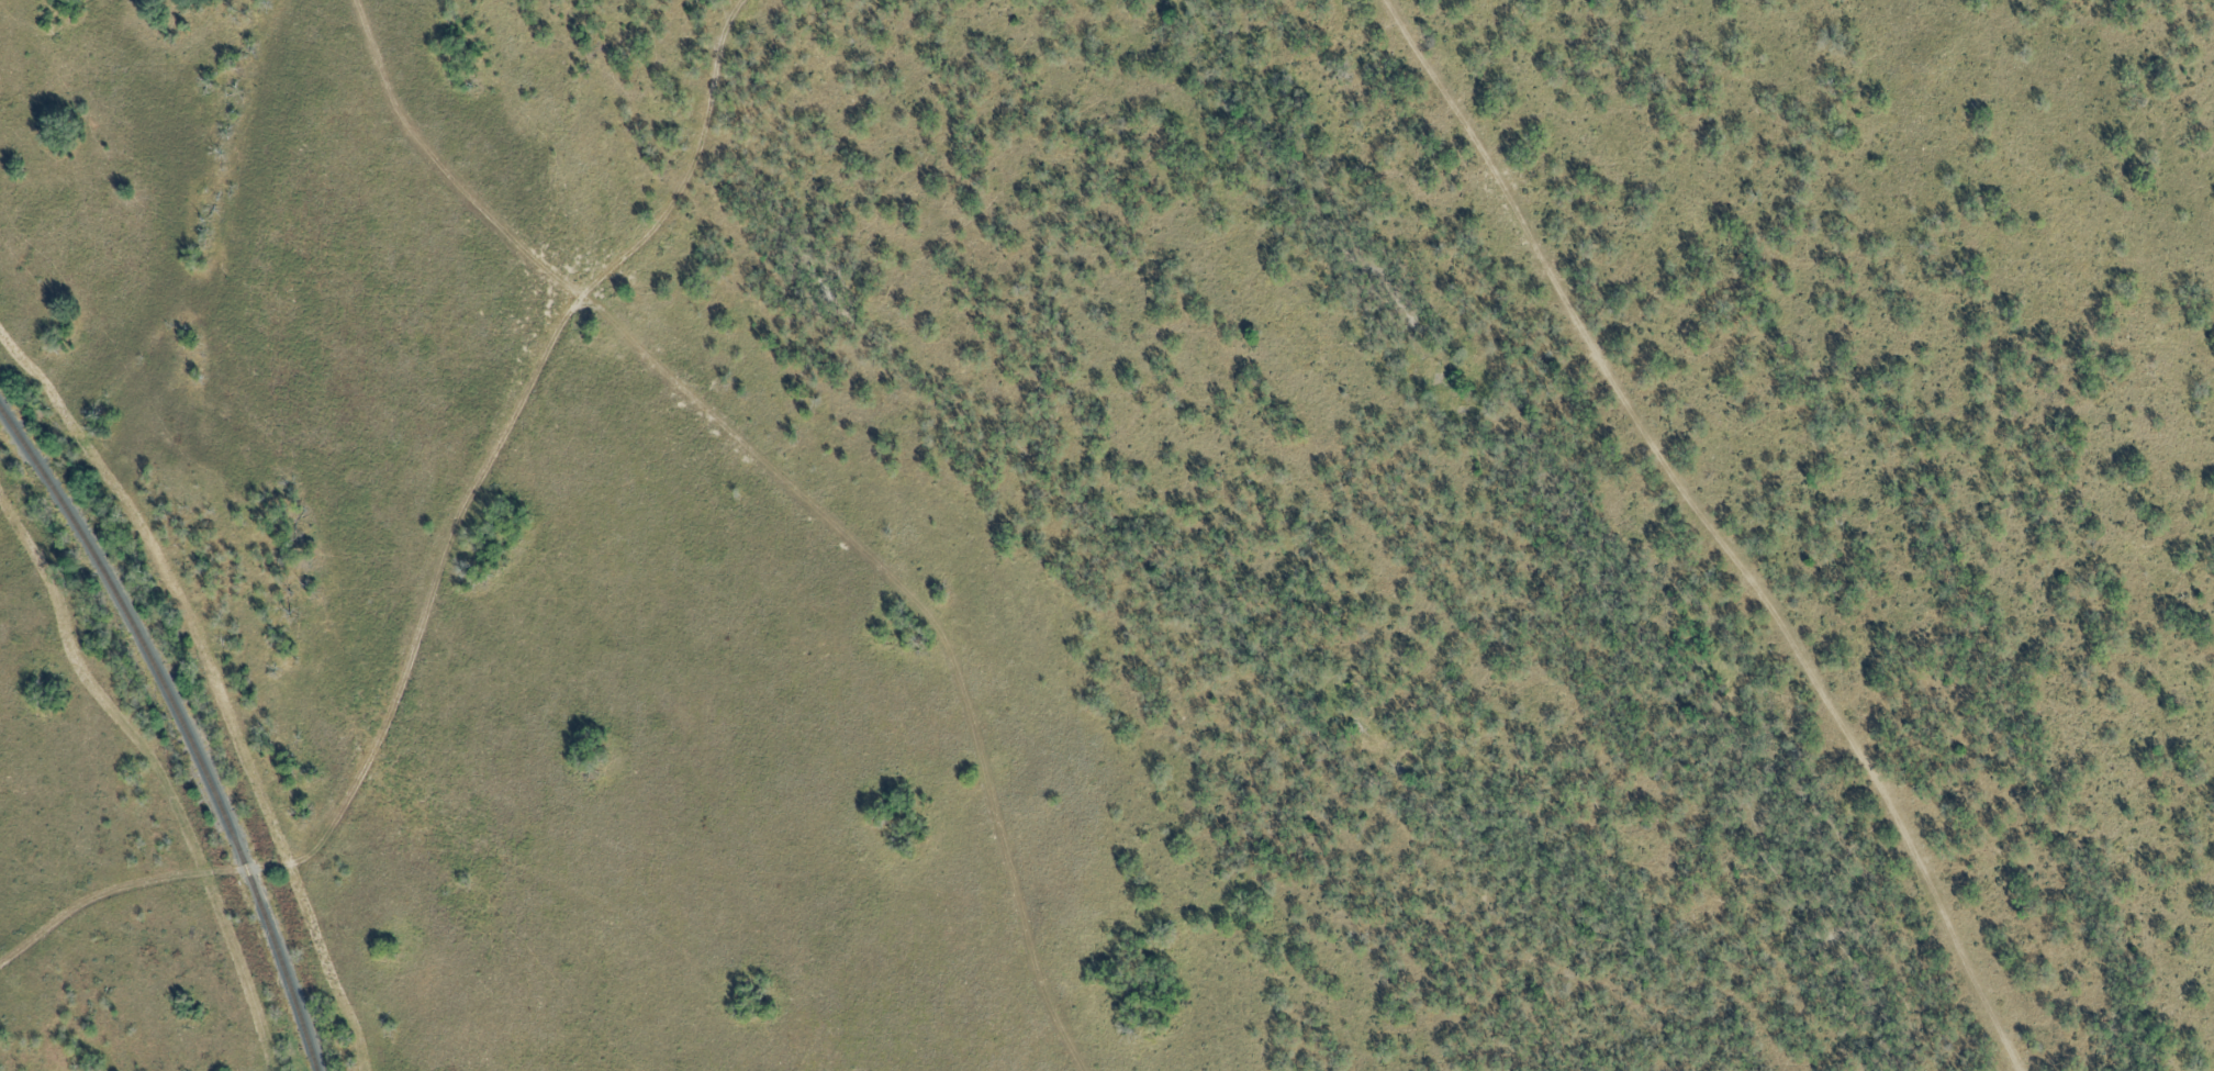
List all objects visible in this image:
railway: (182, 727)

